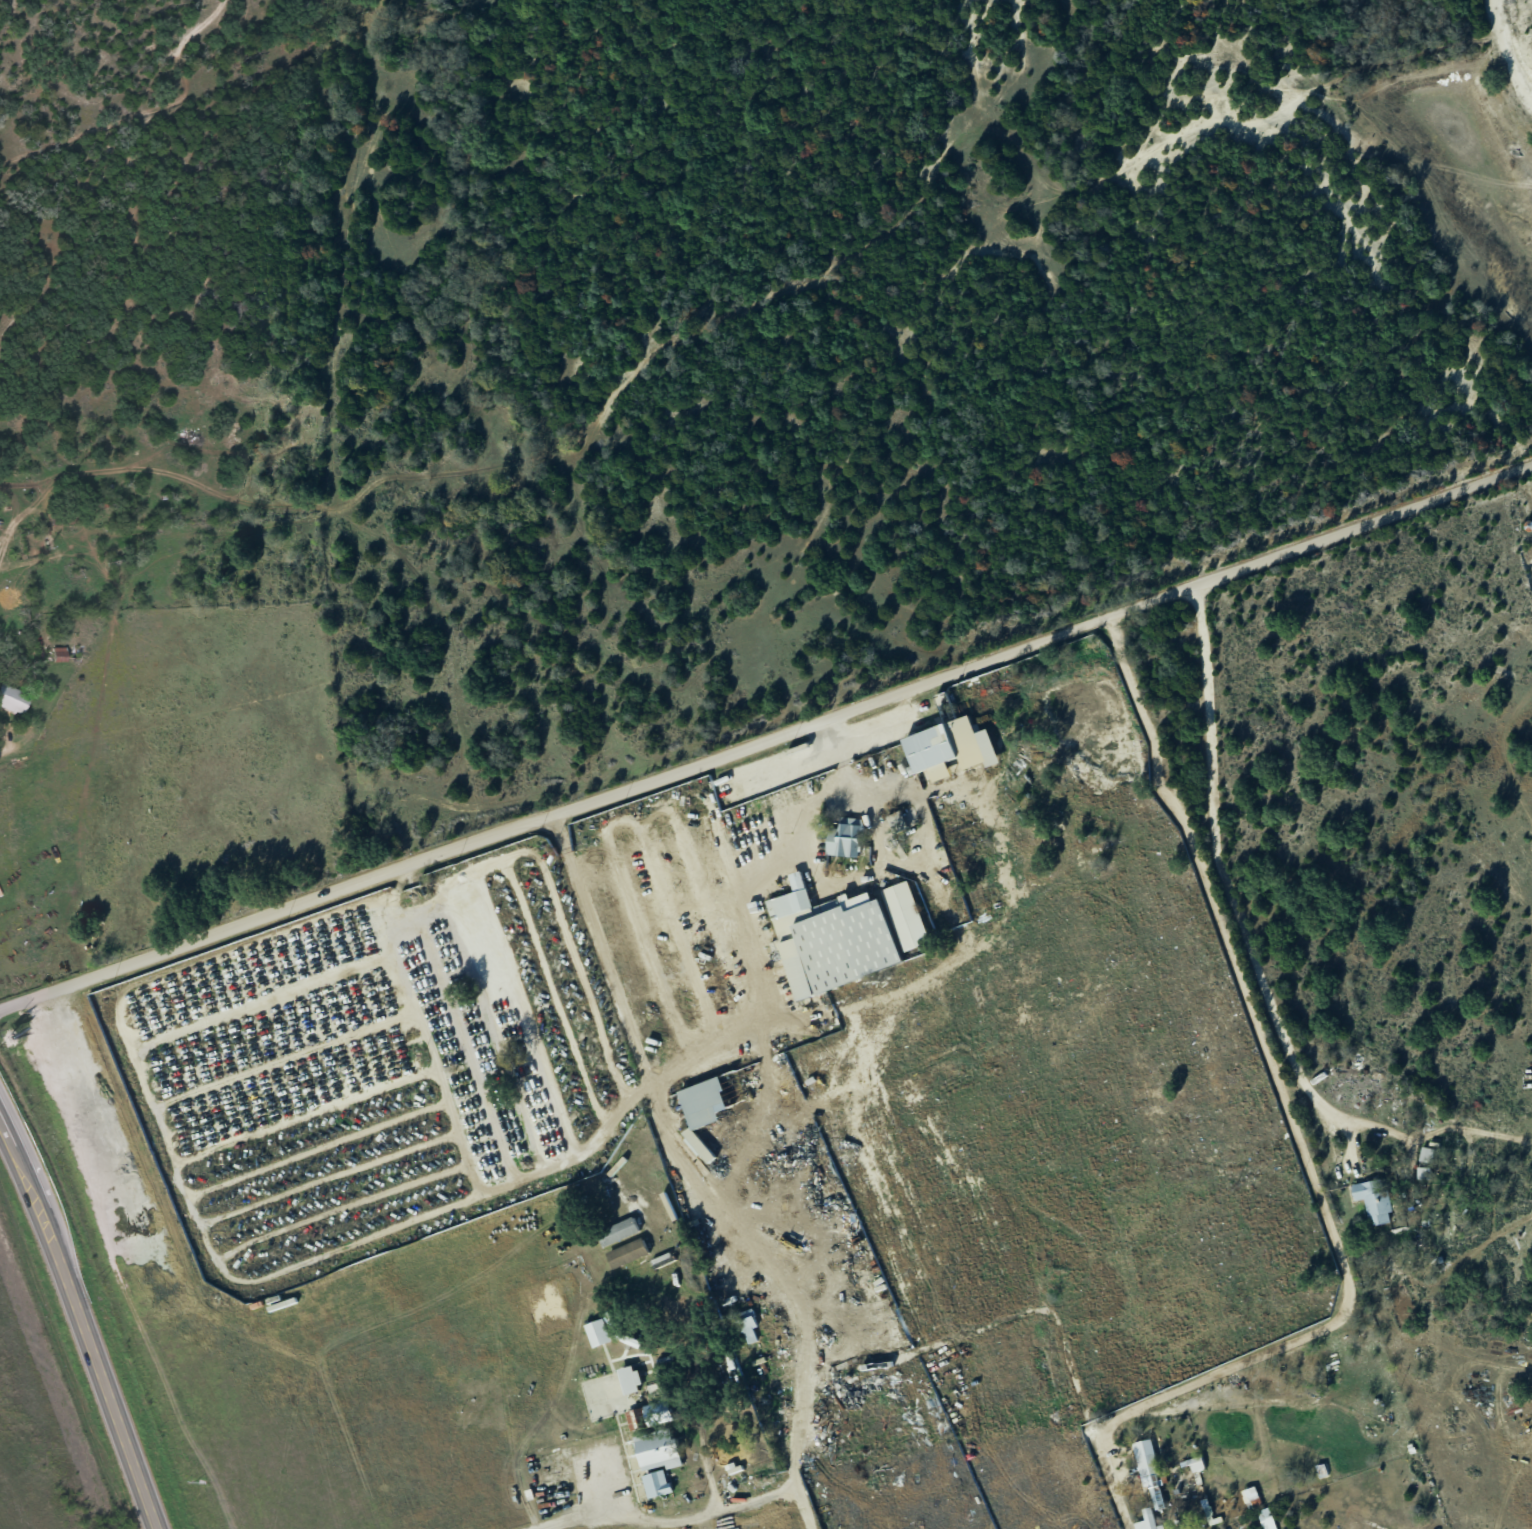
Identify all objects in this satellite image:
building: (12, 700)
road: (766, 736)
road: (2, 744)
building: (949, 748)
building: (844, 838)
road: (1219, 877)
building: (906, 916)
building: (831, 938)
road: (599, 951)
road: (255, 985)
road: (268, 1020)
road: (771, 1030)
road: (123, 1036)
road: (430, 1048)
road: (279, 1052)
road: (291, 1081)
building: (702, 1103)
road: (303, 1113)
road: (1293, 1139)
road: (315, 1146)
building: (697, 1146)
building: (1425, 1155)
building: (1422, 1173)
road: (325, 1175)
building: (1372, 1200)
road: (337, 1207)
building: (617, 1233)
building: (626, 1254)
road: (82, 1324)
building: (747, 1329)
building: (596, 1333)
road: (1214, 1357)
building: (629, 1380)
building: (656, 1413)
building: (631, 1421)
building: (656, 1452)
building: (1194, 1465)
building: (1148, 1472)
building: (655, 1484)
building: (1250, 1497)
road: (718, 1508)
road: (580, 1513)
building: (1265, 1519)
building: (1146, 1521)

